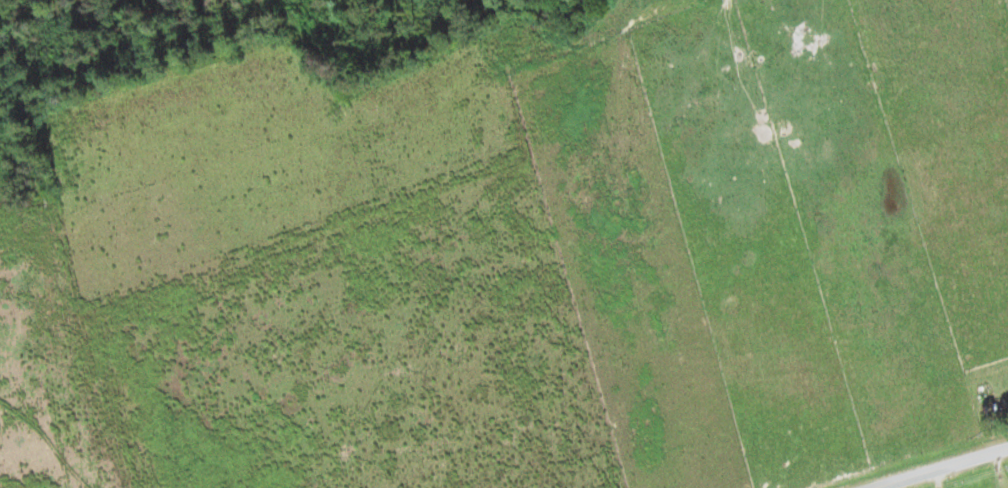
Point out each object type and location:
road: (943, 468)

